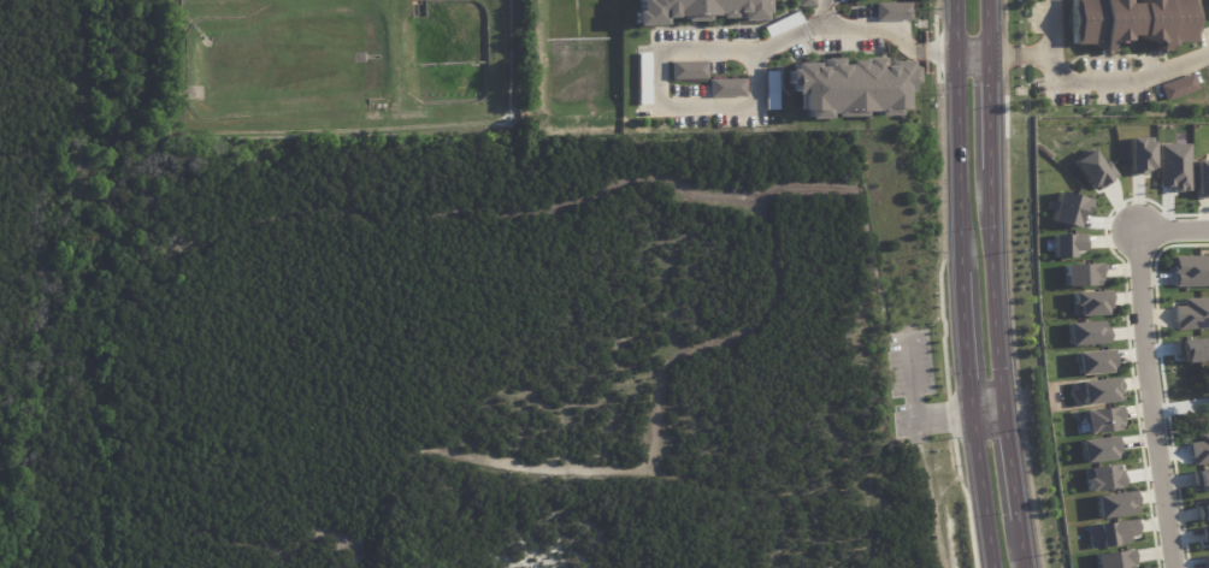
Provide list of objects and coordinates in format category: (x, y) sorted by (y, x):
building: (804, 2)
building: (692, 10)
building: (892, 11)
road: (824, 12)
building: (1133, 22)
building: (782, 24)
road: (1046, 26)
road: (854, 28)
road: (984, 29)
road: (1015, 57)
road: (967, 59)
building: (688, 70)
road: (1122, 81)
building: (643, 83)
building: (844, 85)
building: (726, 87)
building: (771, 89)
building: (1178, 89)
road: (664, 100)
road: (986, 112)
road: (953, 149)
building: (1138, 155)
building: (1173, 166)
building: (1093, 170)
building: (1202, 179)
road: (436, 207)
building: (1064, 245)
building: (1190, 271)
building: (1080, 273)
road: (991, 289)
building: (1090, 303)
building: (1192, 313)
building: (1085, 333)
park: (424, 336)
road: (962, 357)
building: (1092, 361)
road: (1146, 367)
parking lot: (910, 385)
building: (1096, 390)
road: (909, 403)
road: (983, 414)
building: (1101, 419)
building: (1097, 449)
road: (1008, 463)
road: (632, 466)
building: (1102, 478)
building: (1201, 479)
road: (975, 492)
building: (1113, 504)
building: (1203, 509)
road: (163, 522)
building: (1110, 533)
building: (1204, 534)
road: (1020, 542)
building: (1114, 558)
building: (1205, 561)

